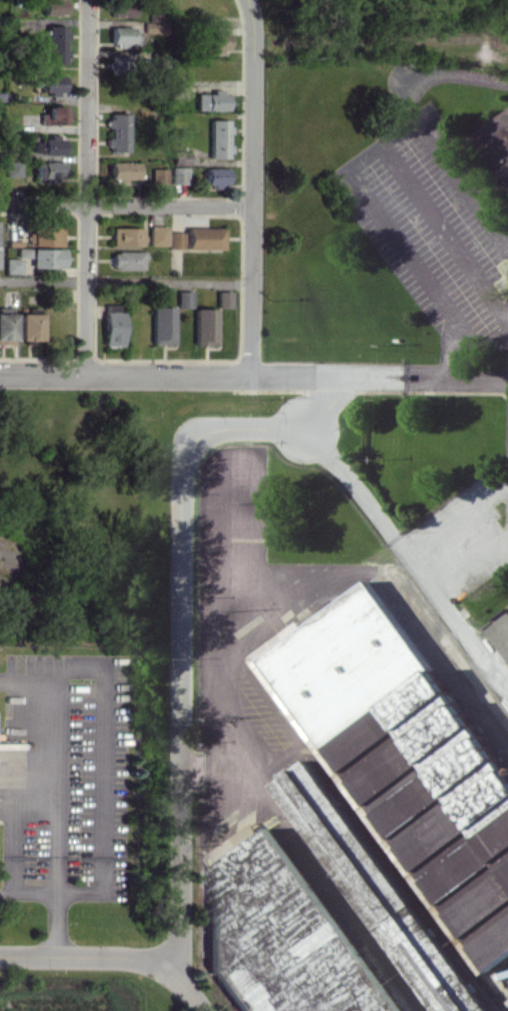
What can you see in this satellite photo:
building: (53, 7)
building: (121, 7)
building: (124, 35)
railway: (390, 37)
building: (214, 42)
building: (55, 44)
building: (116, 63)
building: (52, 84)
building: (211, 101)
building: (52, 115)
road: (420, 123)
building: (117, 132)
building: (218, 138)
building: (48, 145)
building: (12, 168)
building: (48, 169)
building: (122, 170)
building: (178, 175)
building: (215, 176)
building: (158, 177)
road: (86, 186)
road: (250, 187)
road: (125, 205)
road: (445, 229)
building: (157, 235)
building: (45, 236)
building: (125, 236)
road: (389, 236)
building: (204, 238)
building: (175, 240)
building: (47, 258)
building: (126, 260)
building: (12, 265)
road: (125, 282)
building: (184, 298)
building: (223, 298)
building: (162, 324)
building: (28, 326)
building: (204, 326)
building: (6, 328)
building: (112, 328)
road: (254, 376)
road: (406, 555)
road: (470, 562)
road: (180, 616)
building: (502, 628)
building: (405, 748)
road: (102, 776)
road: (58, 789)
building: (270, 854)
road: (318, 864)
building: (416, 949)
road: (60, 956)
road: (168, 972)

